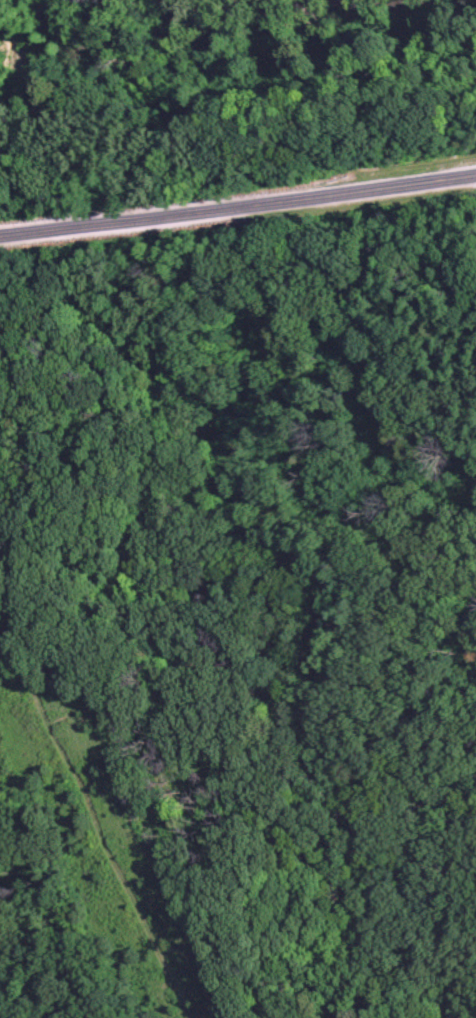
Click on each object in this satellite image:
road: (75, 7)
road: (238, 206)

